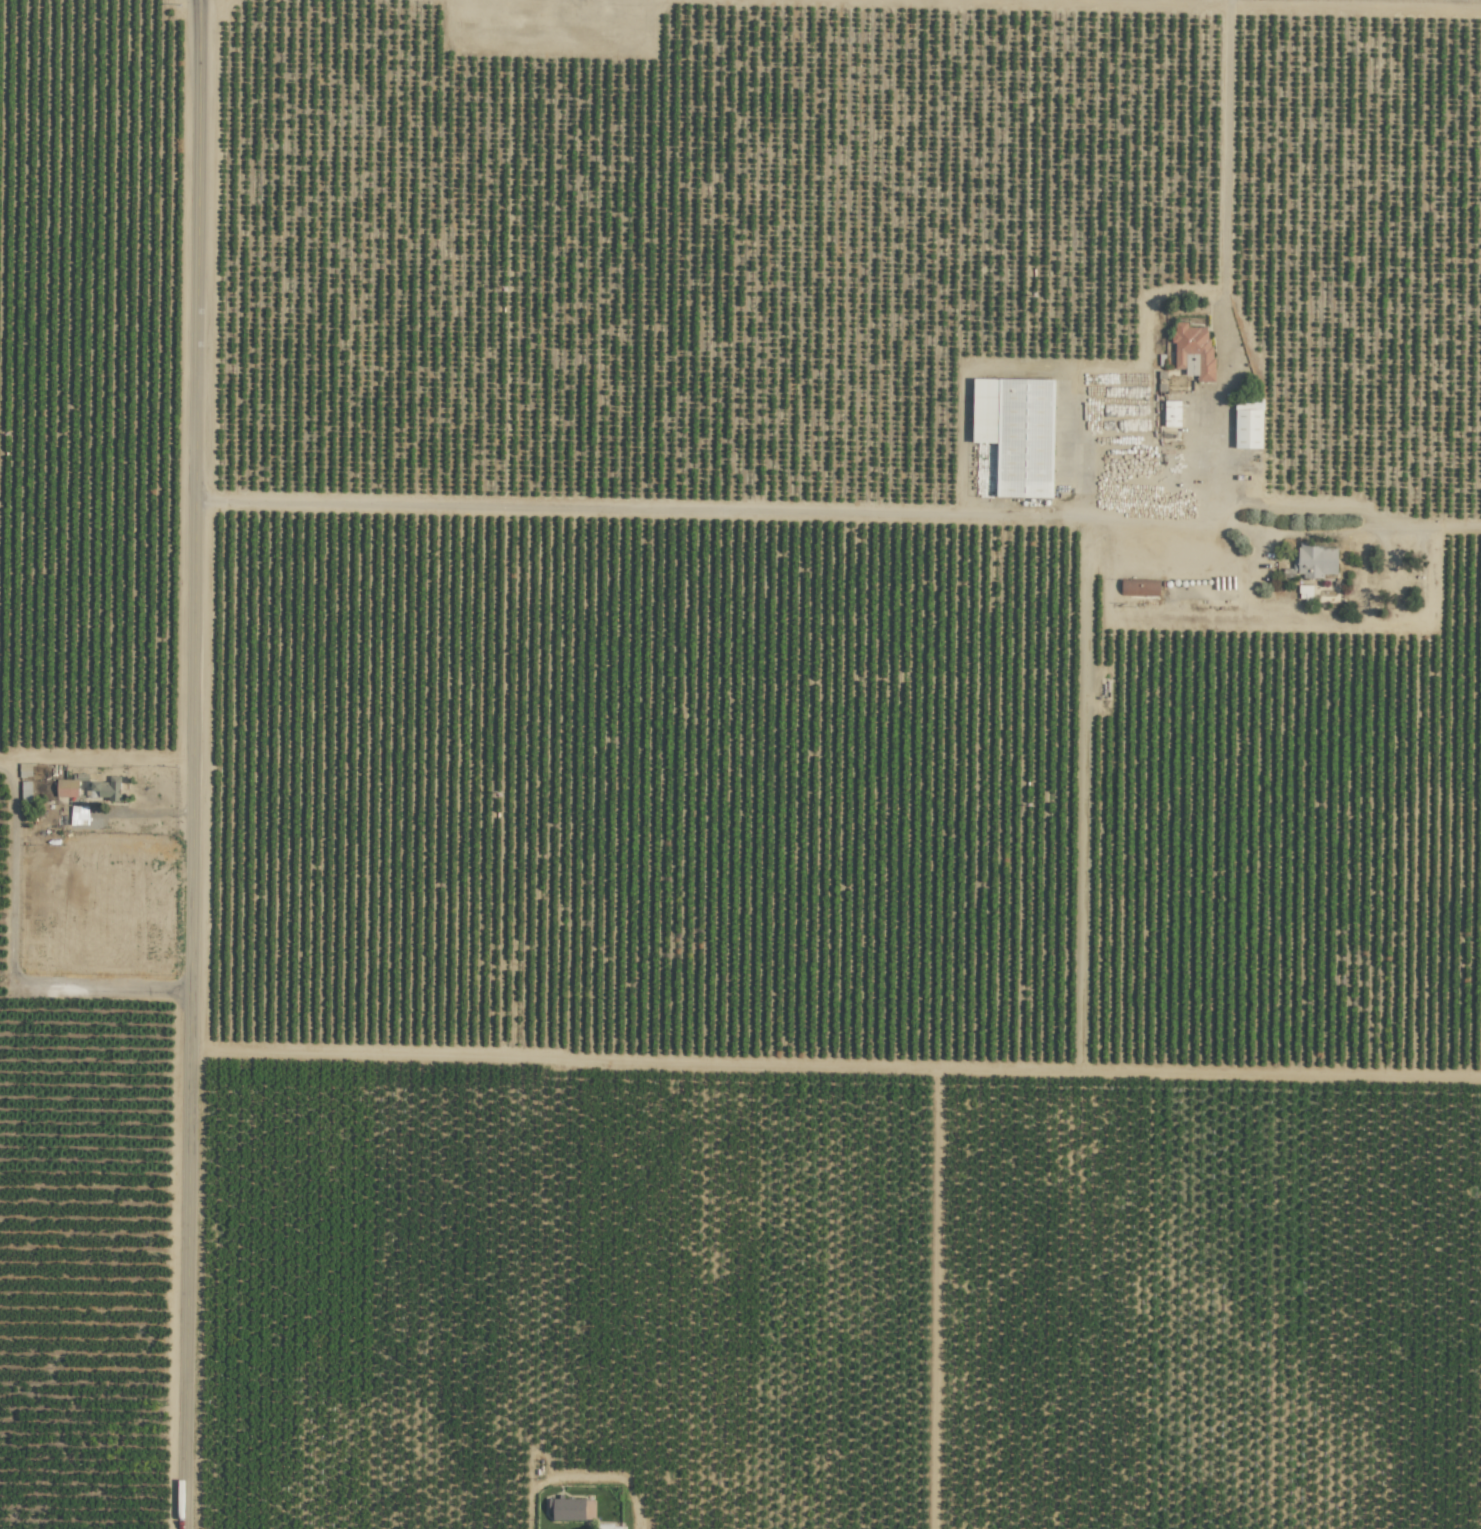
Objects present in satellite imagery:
road: (1221, 251)
building: (1192, 350)
building: (1171, 413)
building: (1014, 435)
road: (841, 511)
building: (1139, 587)
building: (1304, 592)
road: (195, 764)
building: (66, 788)
building: (107, 788)
road: (156, 813)
building: (78, 815)
road: (13, 869)
building: (571, 1508)
building: (610, 1526)

